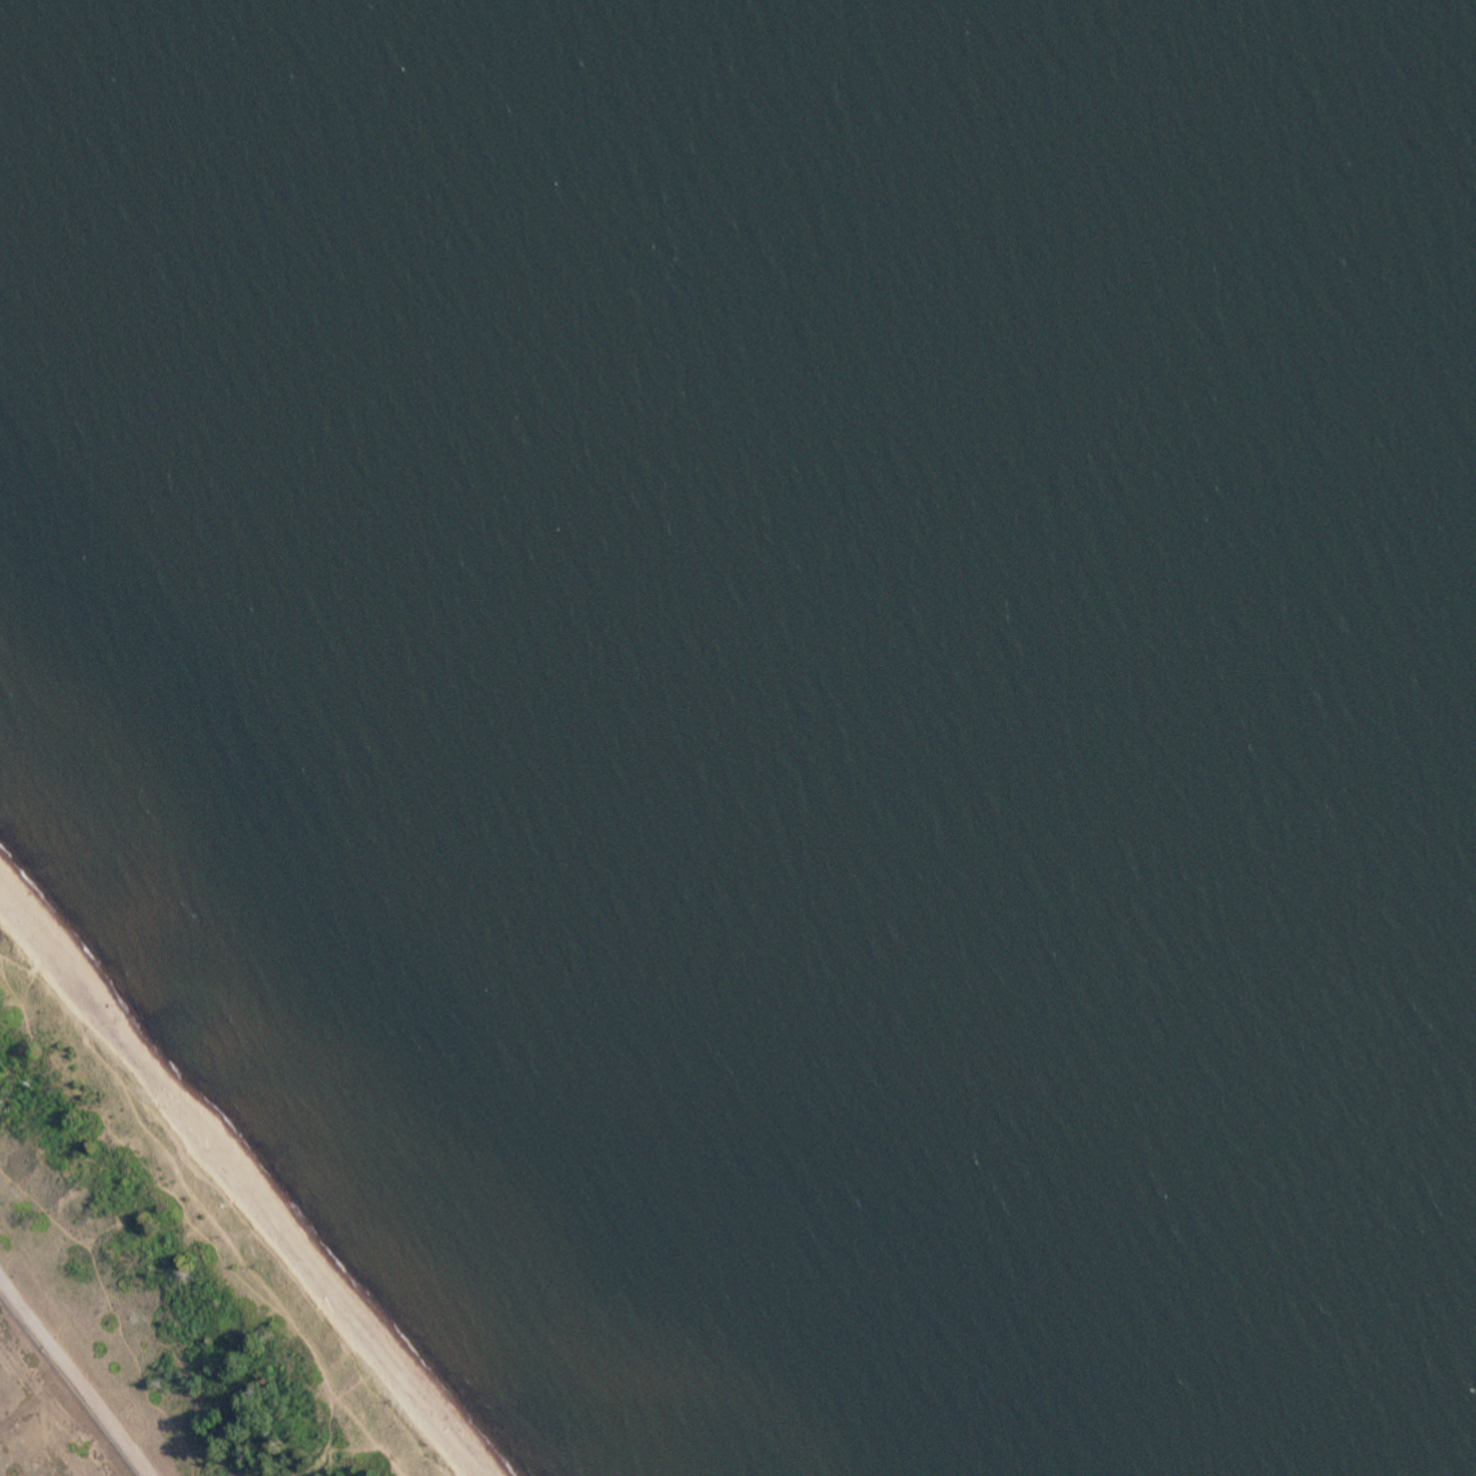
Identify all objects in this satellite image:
road: (74, 1376)
airport: (46, 1414)

